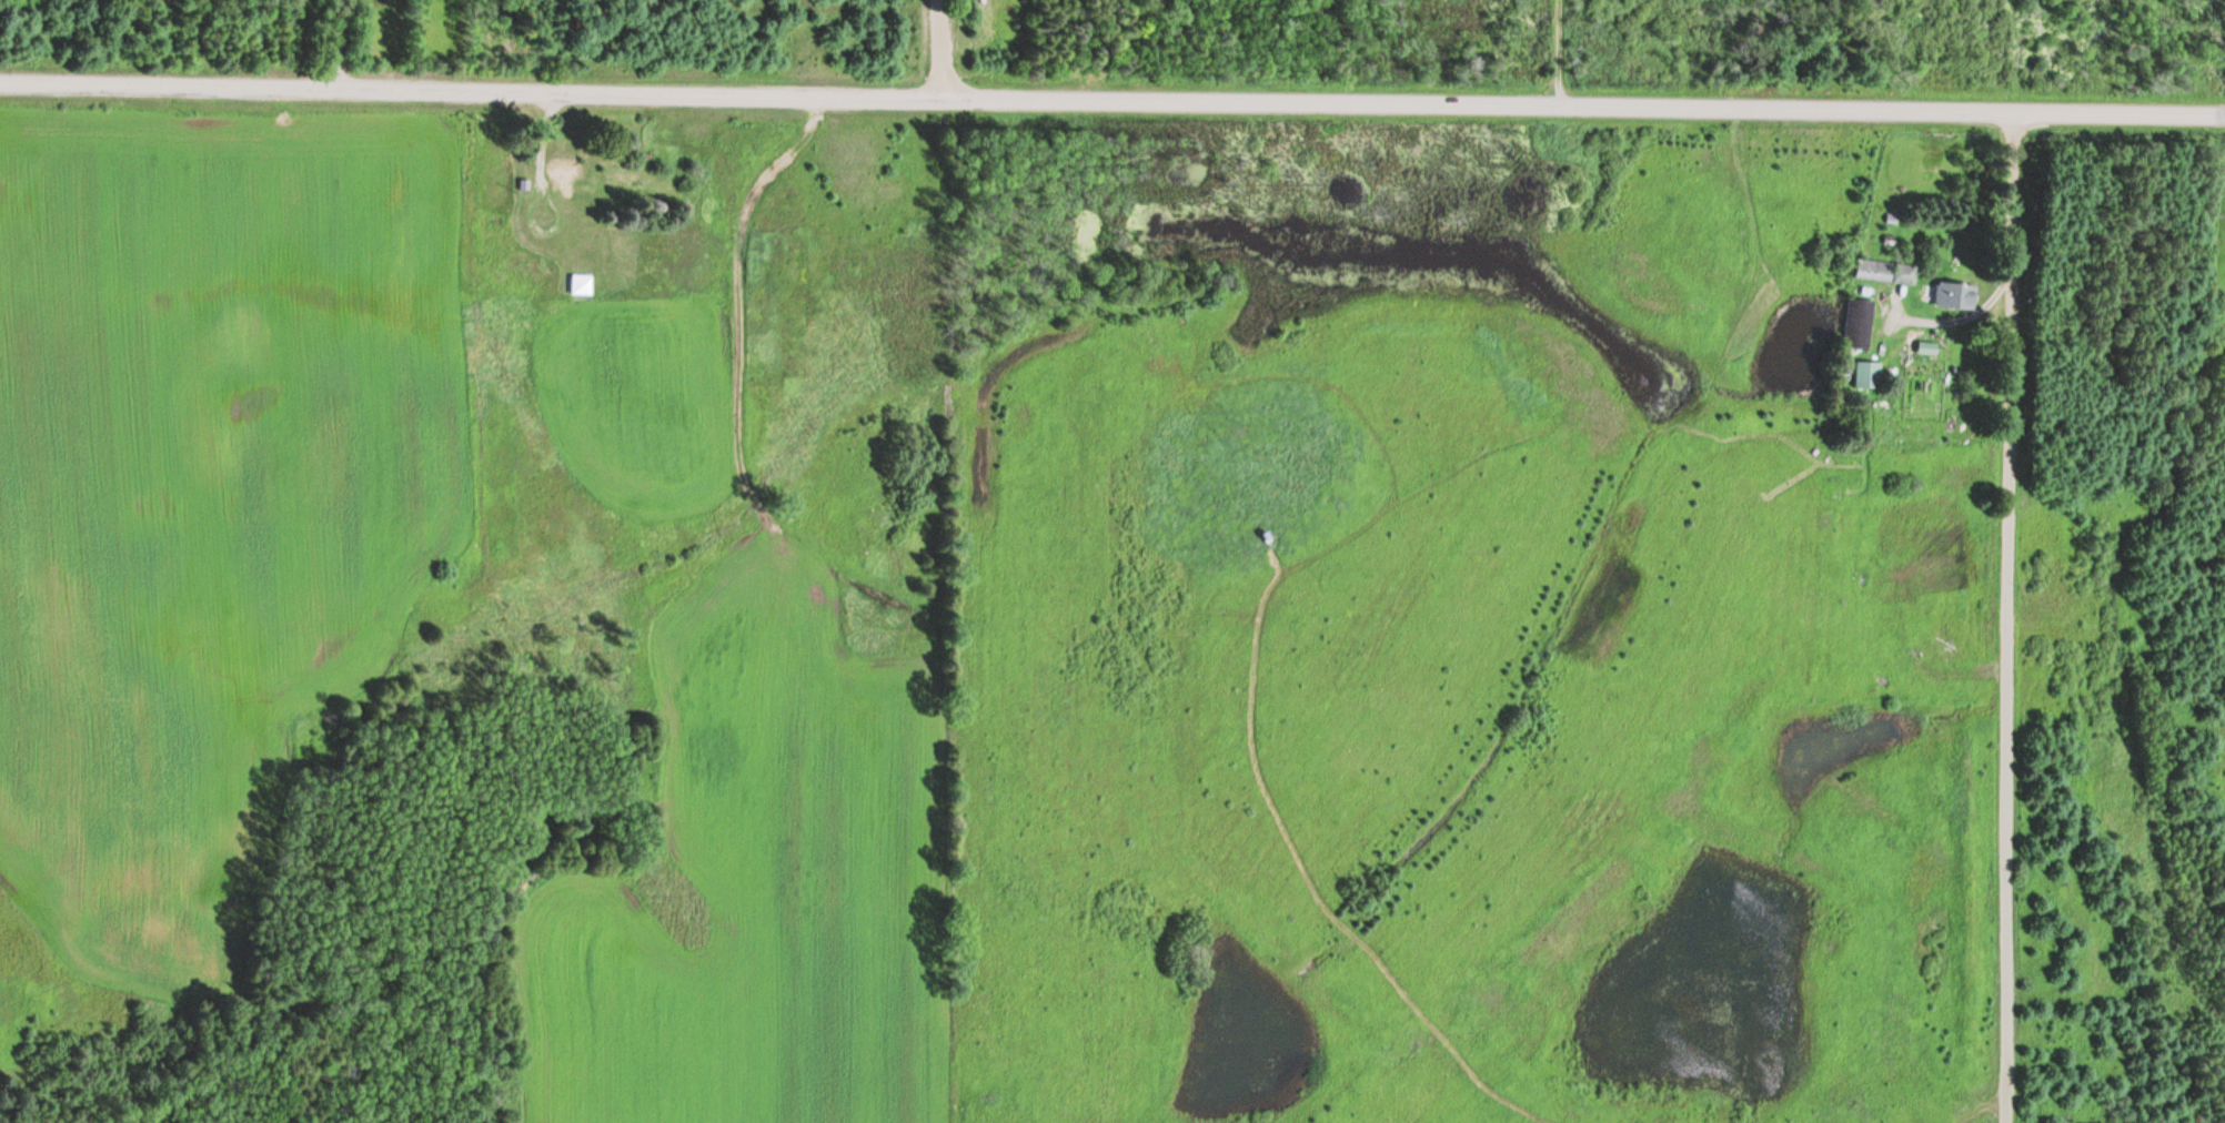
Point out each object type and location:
road: (940, 50)
road: (1111, 102)
building: (563, 173)
building: (502, 244)
building: (1884, 271)
building: (578, 284)
building: (1952, 295)
building: (1857, 324)
building: (1925, 347)
building: (1866, 375)
road: (2013, 619)

